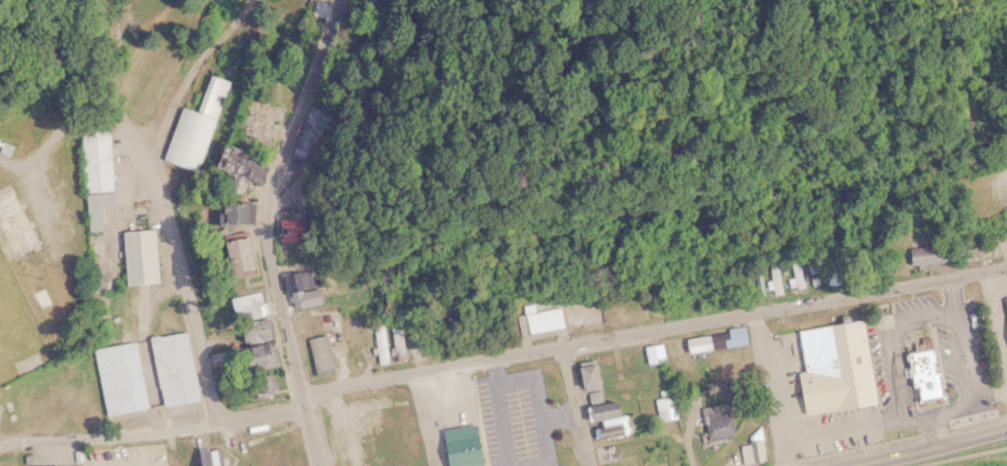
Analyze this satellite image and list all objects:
building: (316, 0)
building: (366, 5)
road: (348, 14)
road: (178, 79)
building: (263, 127)
building: (195, 128)
building: (236, 163)
building: (95, 166)
road: (162, 203)
building: (229, 215)
building: (13, 224)
road: (261, 229)
building: (925, 253)
building: (233, 254)
building: (137, 256)
building: (797, 274)
building: (775, 276)
building: (757, 277)
building: (301, 279)
building: (246, 304)
building: (1005, 307)
building: (540, 317)
park: (11, 321)
building: (254, 329)
road: (654, 329)
building: (380, 337)
building: (716, 338)
building: (398, 341)
building: (319, 350)
building: (654, 351)
building: (259, 353)
building: (834, 364)
building: (172, 366)
building: (921, 372)
building: (585, 373)
building: (119, 377)
building: (262, 381)
road: (577, 406)
road: (258, 413)
building: (606, 418)
building: (715, 419)
road: (106, 435)
road: (923, 447)
building: (752, 449)
building: (466, 451)
building: (210, 456)
road: (958, 456)

